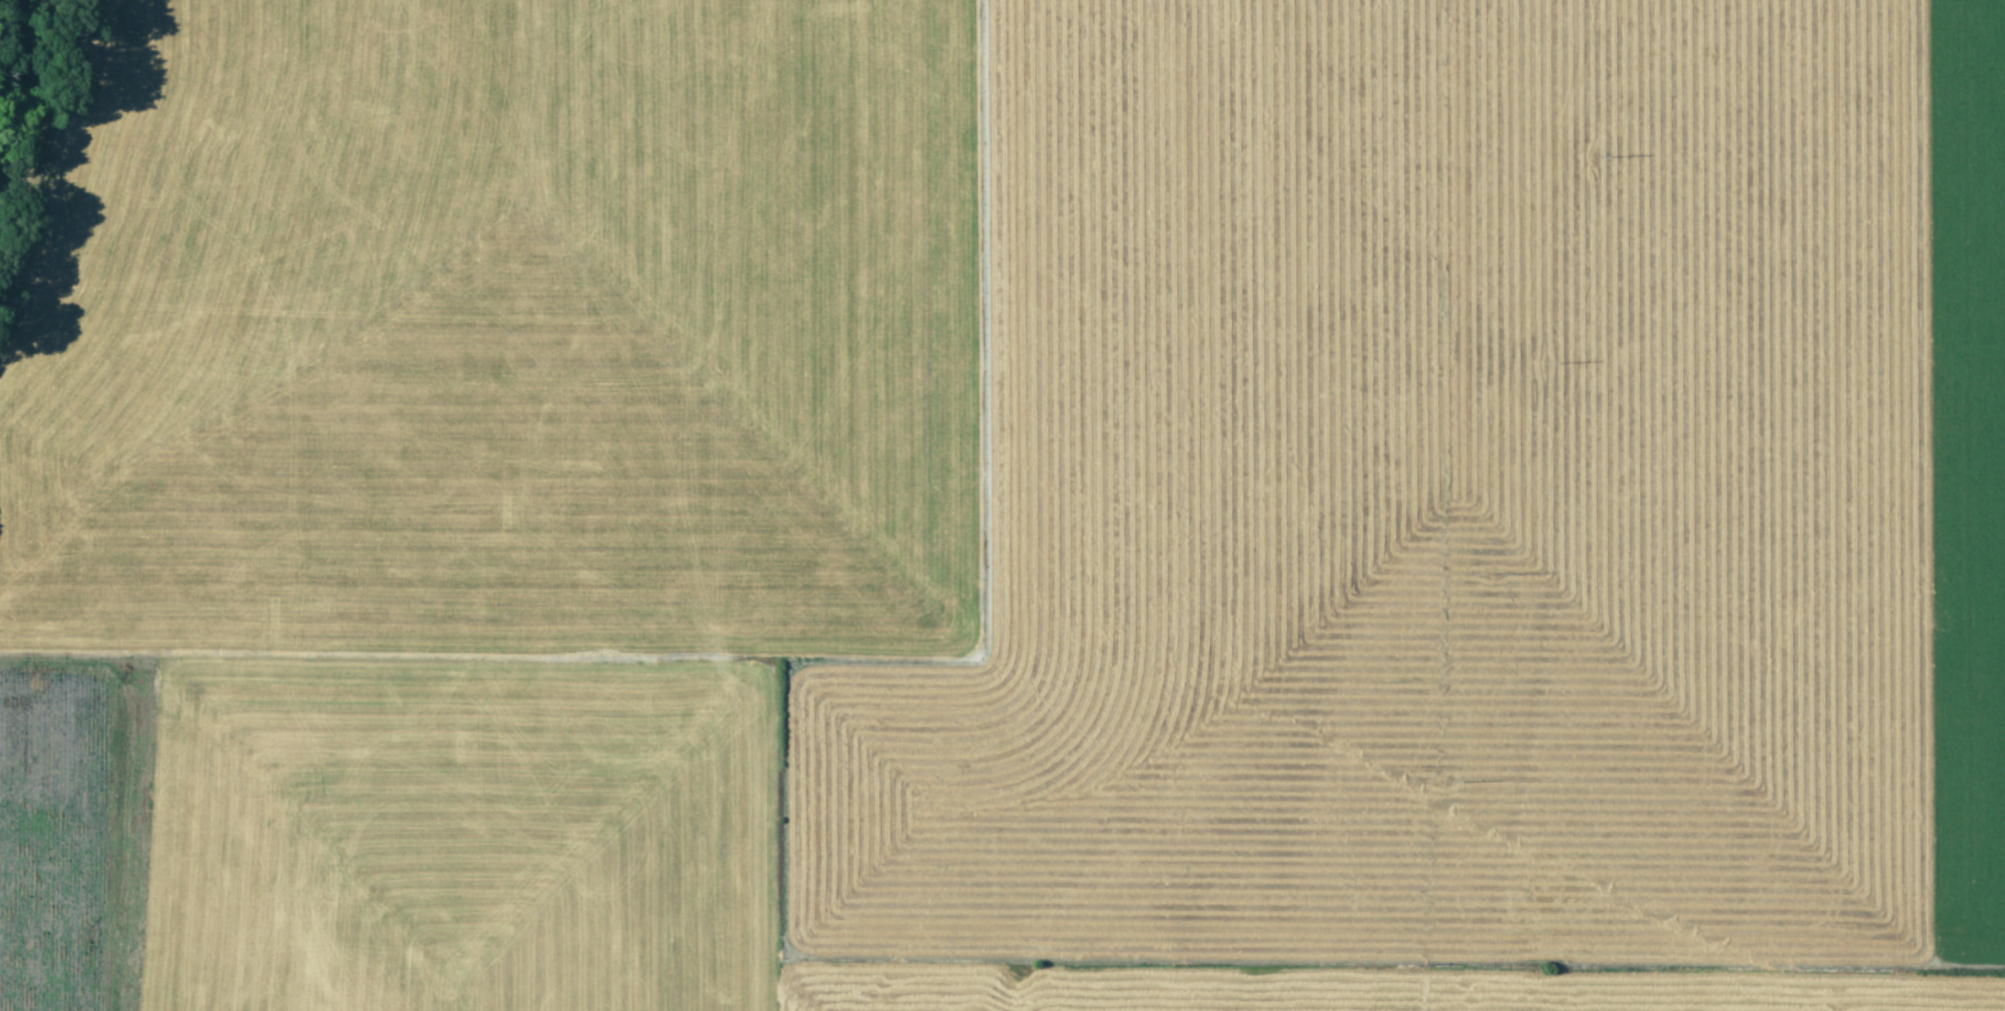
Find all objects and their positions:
crop: (1007, 507)

